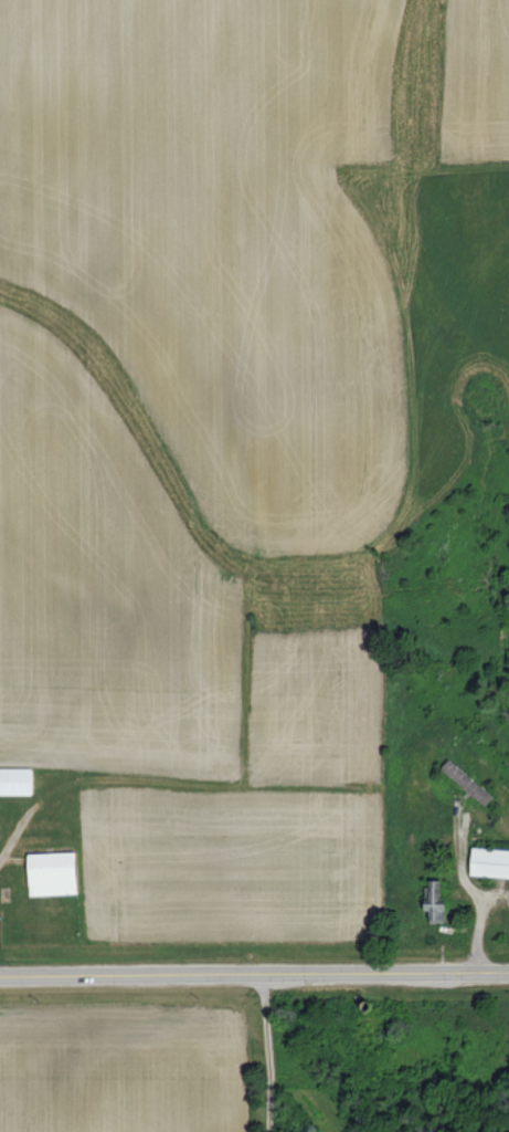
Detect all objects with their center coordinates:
building: (15, 780)
building: (466, 782)
road: (13, 835)
building: (490, 862)
building: (53, 872)
building: (435, 901)
road: (254, 981)
road: (267, 1056)

